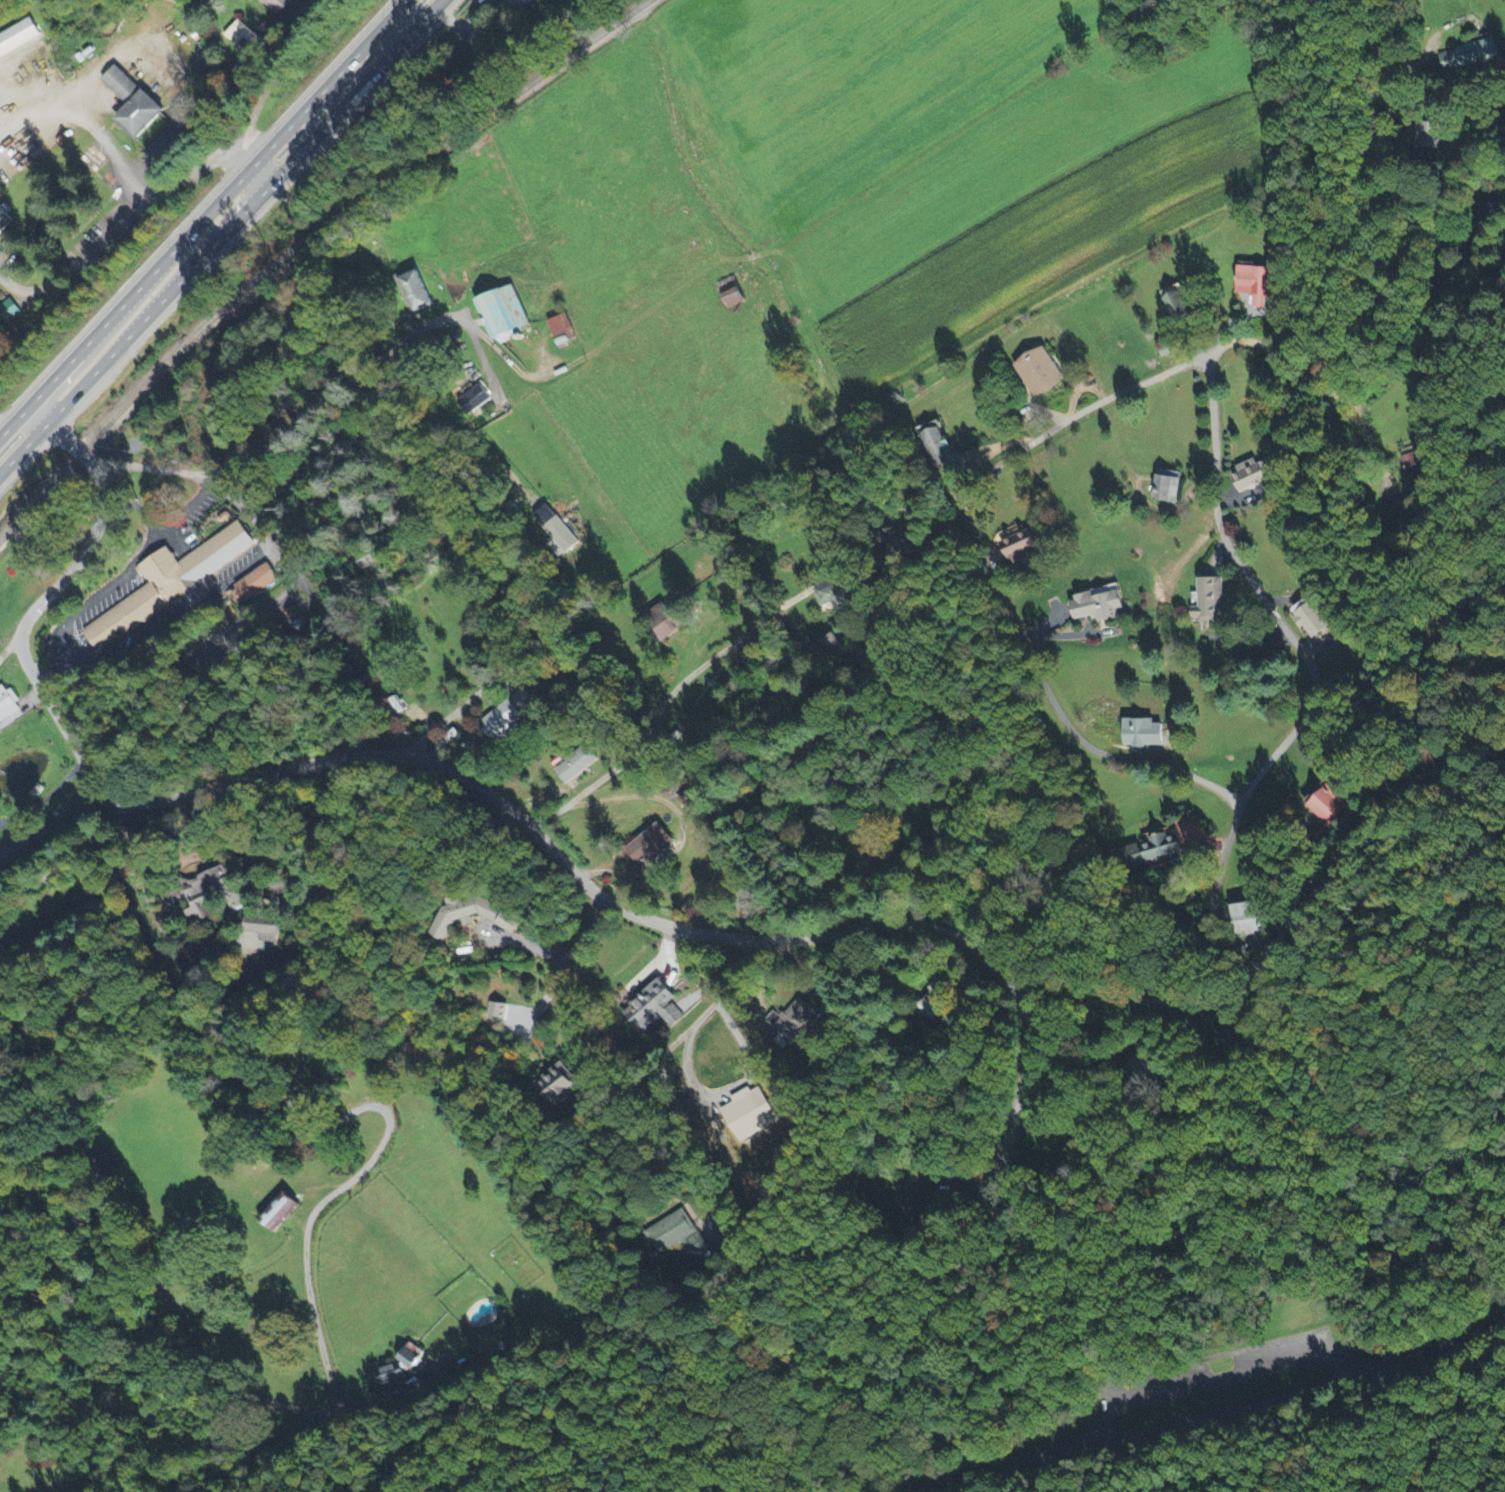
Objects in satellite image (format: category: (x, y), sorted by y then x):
building: (251, 0)
building: (523, 3)
building: (280, 5)
building: (18, 38)
building: (242, 38)
building: (1469, 55)
building: (134, 105)
building: (1428, 137)
road: (1470, 139)
road: (137, 192)
road: (1432, 196)
road: (203, 218)
building: (5, 222)
road: (220, 236)
railway: (294, 248)
building: (1254, 285)
building: (416, 289)
building: (733, 292)
building: (1179, 305)
building: (504, 313)
building: (561, 330)
road: (1257, 342)
building: (1040, 372)
road: (342, 385)
building: (475, 400)
road: (2, 429)
road: (448, 431)
building: (1253, 475)
building: (1167, 489)
road: (99, 518)
building: (558, 529)
building: (1019, 545)
road: (990, 573)
building: (173, 580)
building: (252, 580)
building: (835, 595)
building: (1210, 603)
building: (1100, 605)
building: (1311, 618)
building: (668, 619)
road: (9, 645)
building: (827, 647)
road: (1310, 668)
road: (665, 699)
building: (6, 700)
building: (507, 715)
building: (1144, 733)
building: (577, 765)
road: (1443, 767)
road: (47, 801)
building: (1327, 804)
road: (50, 824)
building: (651, 846)
building: (0, 853)
road: (584, 881)
building: (197, 889)
building: (1245, 919)
building: (263, 923)
road: (565, 962)
road: (1246, 982)
road: (714, 999)
building: (654, 1009)
building: (494, 1012)
building: (795, 1021)
building: (749, 1115)
road: (313, 1119)
road: (689, 1140)
road: (1273, 1195)
building: (279, 1212)
building: (678, 1237)
building: (402, 1368)
parking lot: (1249, 1370)
parking lot: (1226, 1376)
road: (1217, 1378)
road: (1211, 1417)
road: (1498, 1488)

